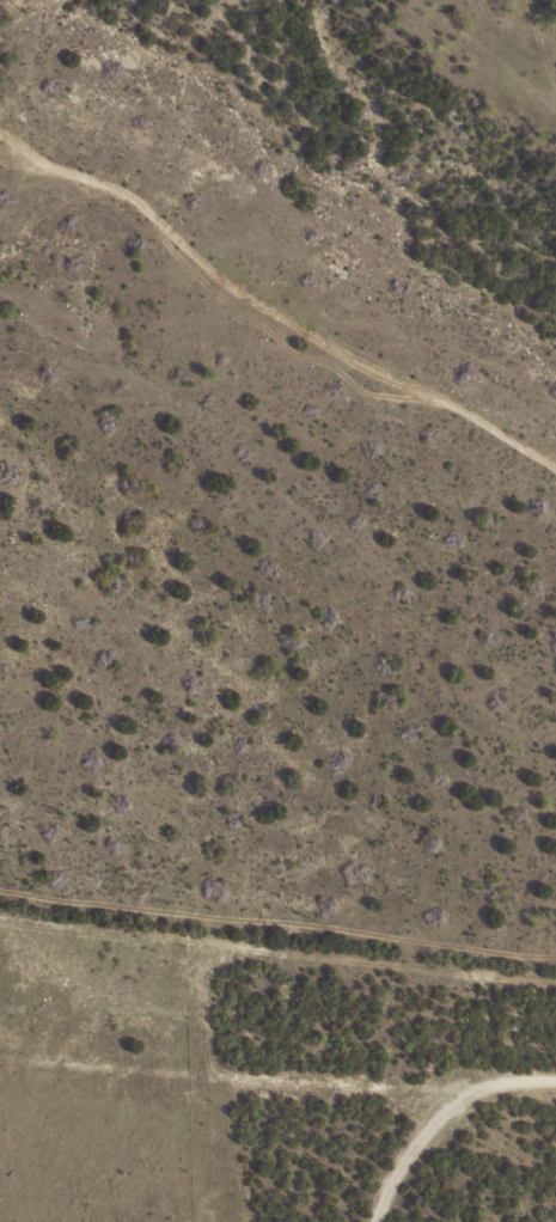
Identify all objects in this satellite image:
road: (277, 1077)
road: (423, 1131)

